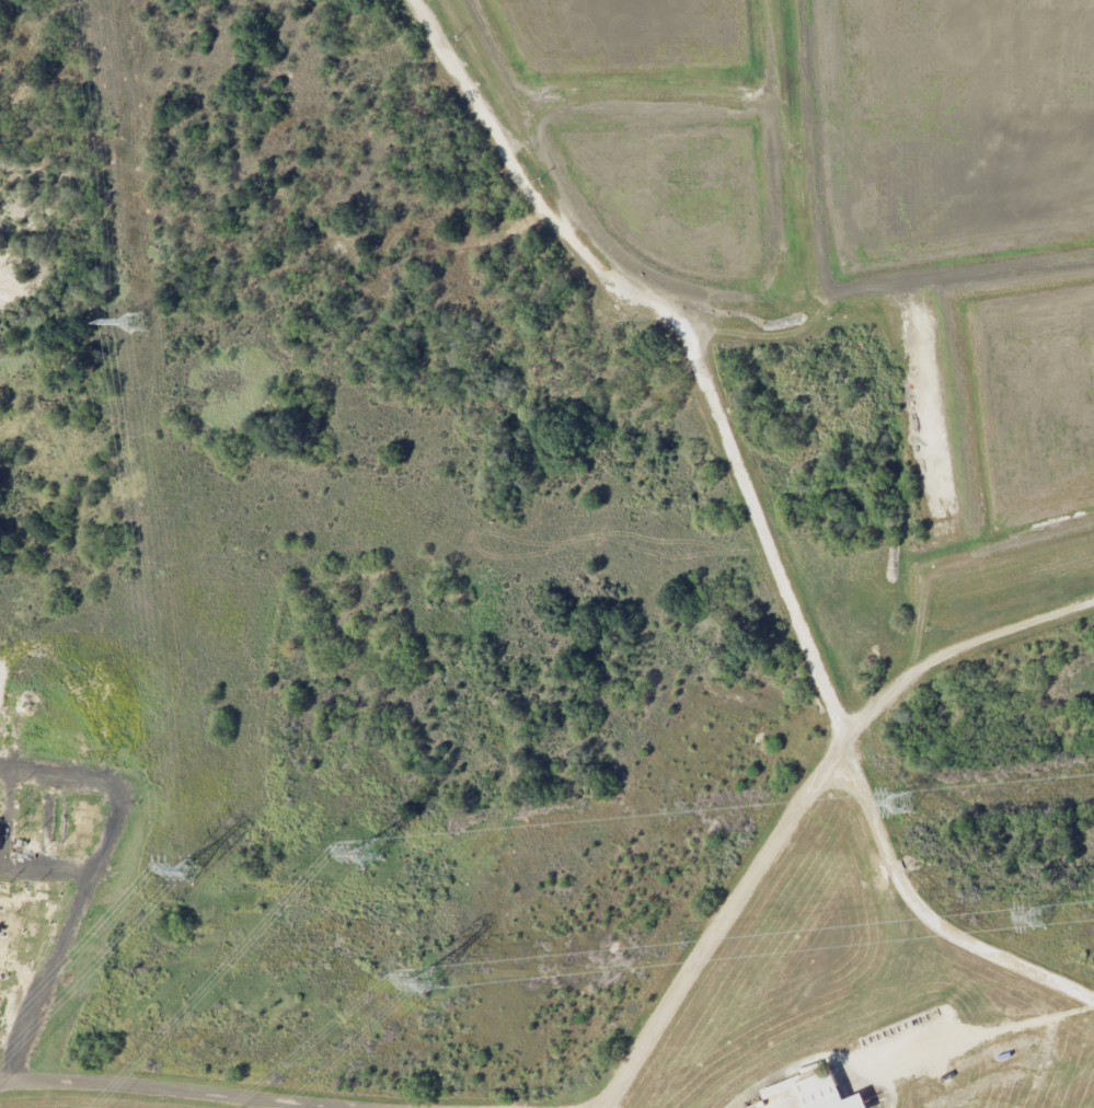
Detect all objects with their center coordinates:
power tower: (139, 324)
road: (756, 515)
road: (803, 804)
power tower: (901, 806)
power tower: (368, 855)
power tower: (188, 872)
power tower: (1037, 919)
power tower: (426, 982)
road: (991, 1041)
road: (164, 1090)
building: (811, 1094)

